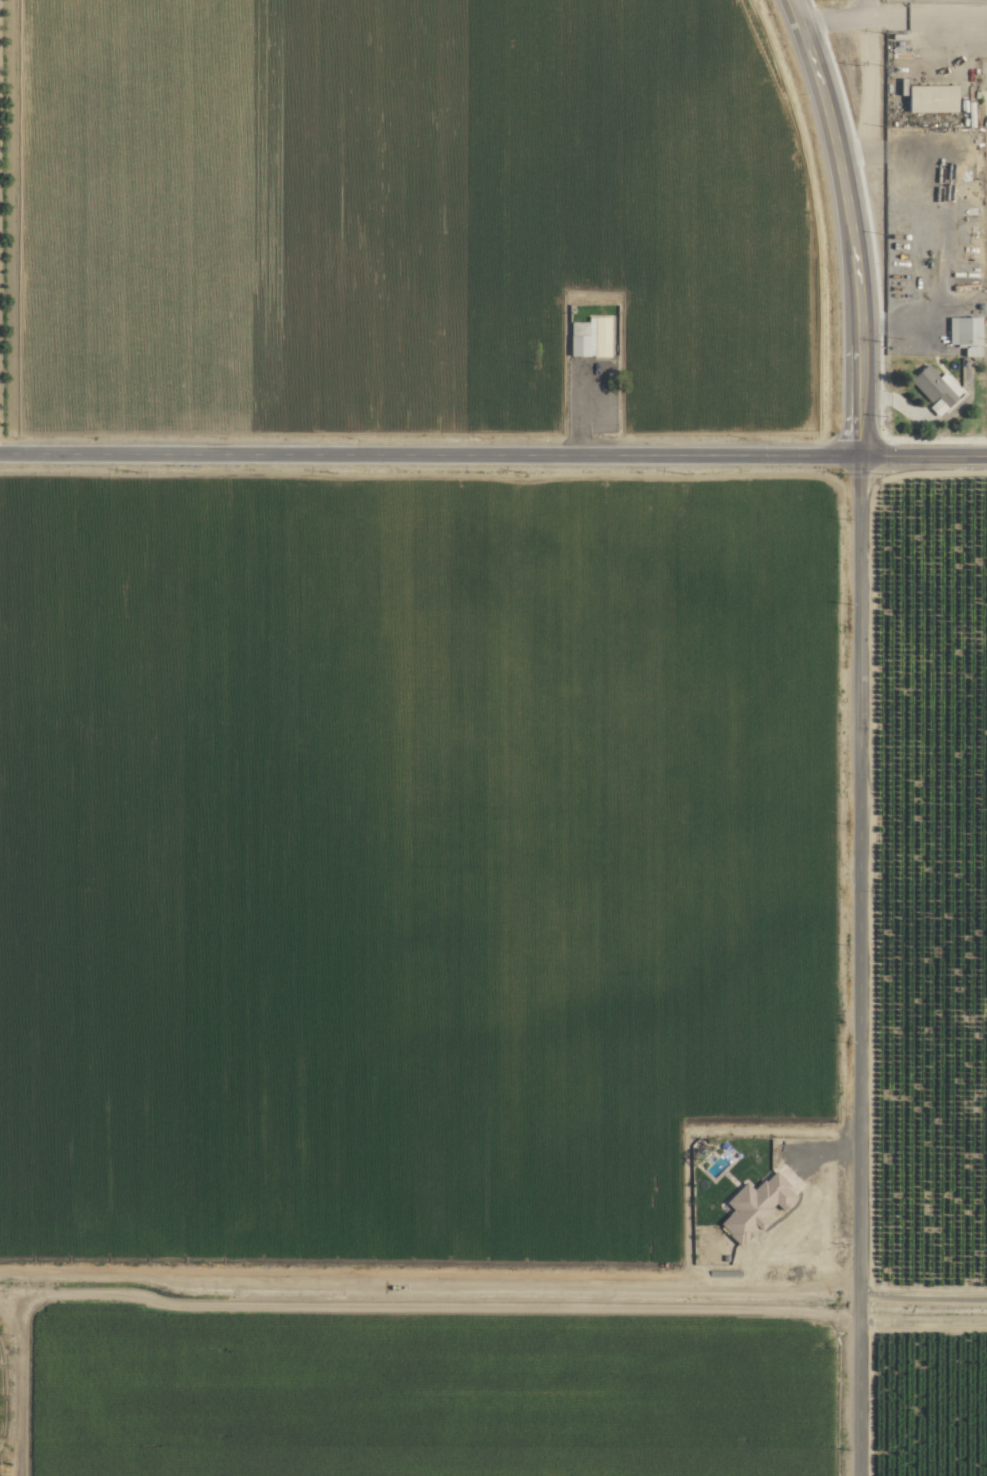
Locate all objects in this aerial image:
road: (884, 16)
road: (866, 92)
building: (925, 98)
road: (831, 226)
building: (961, 333)
building: (588, 336)
building: (932, 388)
road: (417, 456)
road: (911, 459)
road: (849, 967)
building: (750, 1205)

